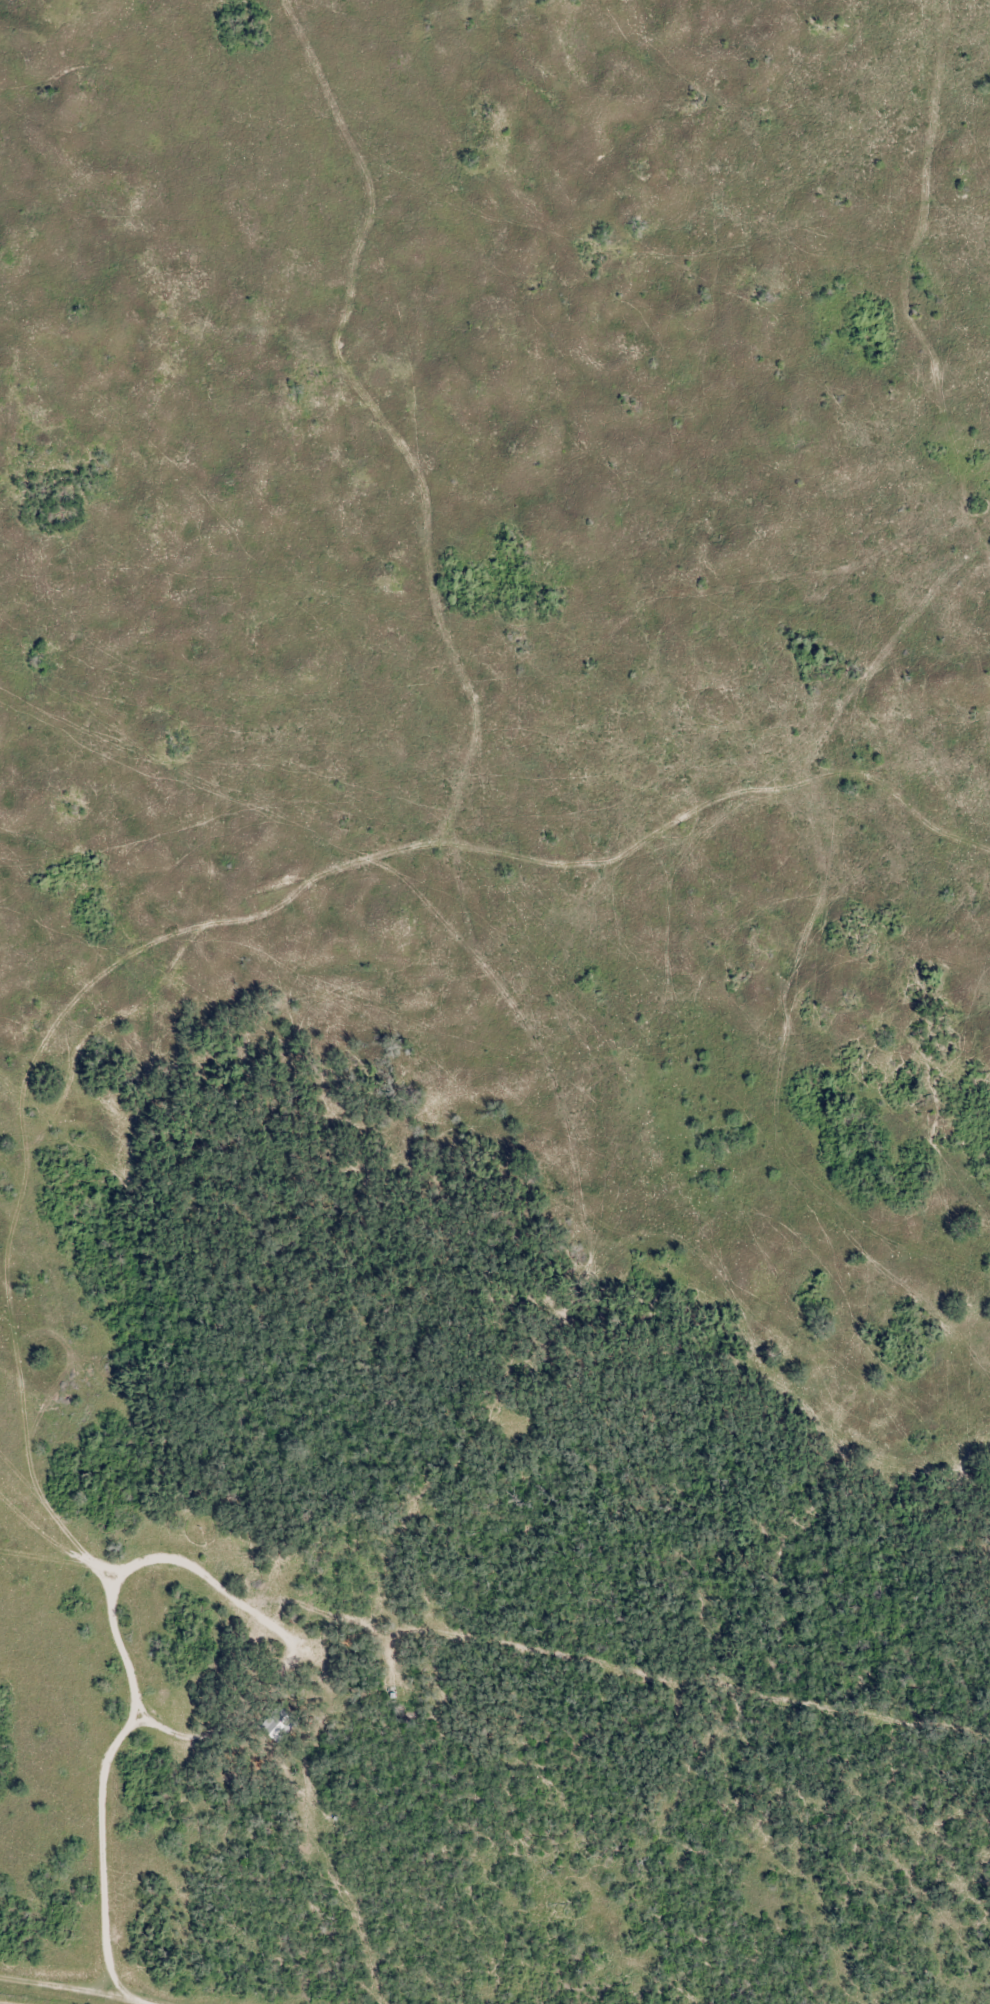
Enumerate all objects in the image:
building: (278, 1725)
road: (93, 1981)
road: (204, 2000)

